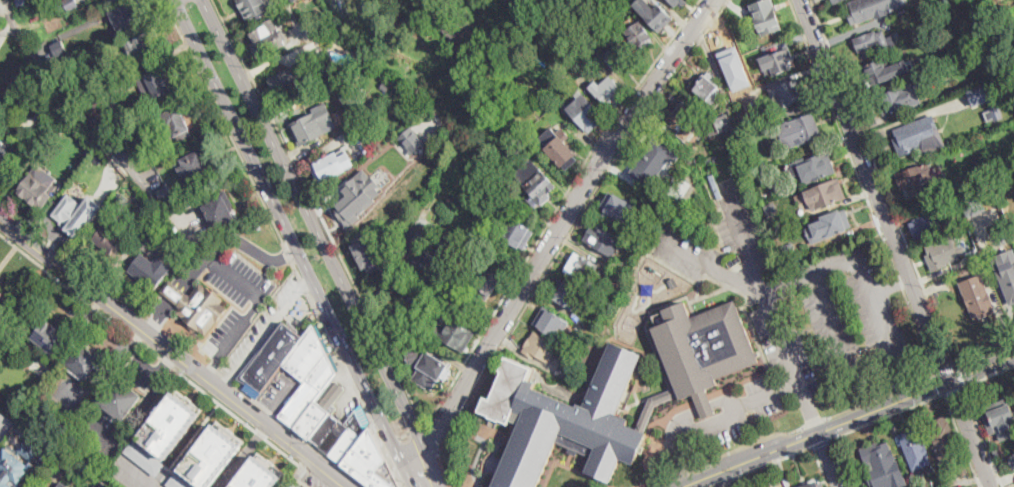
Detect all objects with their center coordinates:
building: (0, 0)
building: (112, 0)
building: (115, 0)
building: (295, 1)
building: (677, 1)
building: (836, 1)
building: (21, 2)
building: (68, 4)
building: (255, 8)
building: (865, 9)
building: (654, 13)
building: (130, 15)
building: (766, 17)
building: (455, 26)
building: (639, 34)
building: (267, 38)
building: (874, 43)
building: (142, 45)
road: (37, 48)
building: (59, 48)
building: (618, 57)
building: (732, 58)
building: (941, 59)
building: (78, 62)
building: (474, 62)
building: (778, 62)
building: (1003, 69)
building: (878, 72)
building: (293, 76)
building: (76, 81)
building: (159, 83)
building: (386, 85)
building: (553, 89)
building: (708, 90)
building: (608, 92)
building: (788, 94)
building: (982, 94)
building: (902, 97)
building: (95, 99)
building: (357, 107)
building: (767, 109)
building: (96, 110)
building: (375, 111)
building: (585, 112)
building: (994, 112)
building: (8, 113)
building: (683, 117)
building: (176, 121)
road: (224, 122)
building: (314, 123)
building: (719, 125)
building: (802, 130)
building: (744, 133)
building: (515, 134)
building: (912, 137)
building: (412, 139)
building: (526, 147)
building: (558, 147)
building: (714, 147)
building: (733, 148)
building: (5, 157)
building: (654, 162)
building: (332, 165)
building: (195, 167)
building: (816, 168)
road: (608, 170)
building: (918, 180)
road: (884, 183)
building: (38, 184)
building: (536, 185)
road: (864, 187)
road: (875, 189)
building: (828, 193)
building: (357, 195)
building: (167, 196)
building: (124, 202)
building: (972, 202)
building: (770, 207)
road: (556, 209)
building: (620, 209)
building: (221, 210)
building: (693, 210)
building: (77, 212)
road: (319, 213)
building: (108, 215)
road: (563, 220)
parking lot: (739, 223)
building: (829, 226)
building: (926, 226)
building: (514, 232)
building: (109, 237)
building: (603, 239)
road: (323, 242)
building: (635, 242)
road: (294, 243)
building: (451, 245)
building: (368, 251)
parking lot: (687, 251)
building: (788, 251)
road: (286, 252)
building: (944, 252)
building: (974, 256)
building: (424, 260)
road: (714, 268)
building: (982, 269)
building: (151, 270)
building: (587, 270)
road: (809, 275)
road: (240, 276)
road: (184, 279)
building: (1007, 279)
parking lot: (240, 280)
building: (490, 281)
building: (672, 282)
road: (890, 288)
building: (567, 295)
building: (978, 297)
building: (3, 301)
building: (197, 306)
road: (773, 312)
parking lot: (272, 315)
parking lot: (853, 315)
road: (151, 319)
building: (550, 321)
parking lot: (226, 327)
road: (262, 331)
building: (50, 336)
building: (457, 336)
building: (110, 344)
building: (703, 345)
parking lot: (785, 346)
building: (542, 347)
road: (153, 352)
road: (172, 354)
road: (985, 354)
road: (870, 359)
building: (88, 362)
road: (166, 365)
building: (426, 366)
building: (566, 370)
road: (947, 371)
road: (348, 372)
road: (960, 376)
road: (989, 376)
traffic signals: (951, 379)
road: (941, 384)
building: (308, 388)
parking lot: (283, 389)
road: (857, 389)
road: (954, 390)
parking lot: (771, 393)
road: (881, 395)
road: (766, 396)
building: (120, 399)
building: (704, 402)
road: (705, 406)
road: (139, 409)
road: (889, 416)
building: (646, 417)
building: (1000, 417)
road: (461, 418)
road: (681, 419)
road: (727, 419)
building: (565, 420)
road: (846, 420)
road: (814, 422)
building: (170, 423)
road: (755, 423)
road: (417, 427)
road: (971, 433)
road: (403, 434)
parking lot: (717, 435)
road: (983, 436)
building: (943, 438)
road: (389, 439)
road: (432, 439)
road: (963, 440)
road: (823, 443)
road: (744, 444)
building: (33, 445)
building: (917, 452)
building: (212, 454)
building: (145, 456)
road: (243, 456)
road: (676, 458)
road: (827, 459)
building: (1011, 459)
building: (66, 460)
road: (774, 460)
building: (371, 462)
road: (841, 462)
building: (882, 464)
road: (821, 467)
building: (11, 468)
building: (963, 470)
road: (139, 472)
road: (679, 472)
building: (258, 473)
road: (721, 479)
road: (723, 480)
building: (180, 481)
road: (652, 481)
building: (102, 484)
building: (63, 485)
building: (296, 485)
building: (815, 485)
road: (709, 486)
building: (785, 486)

